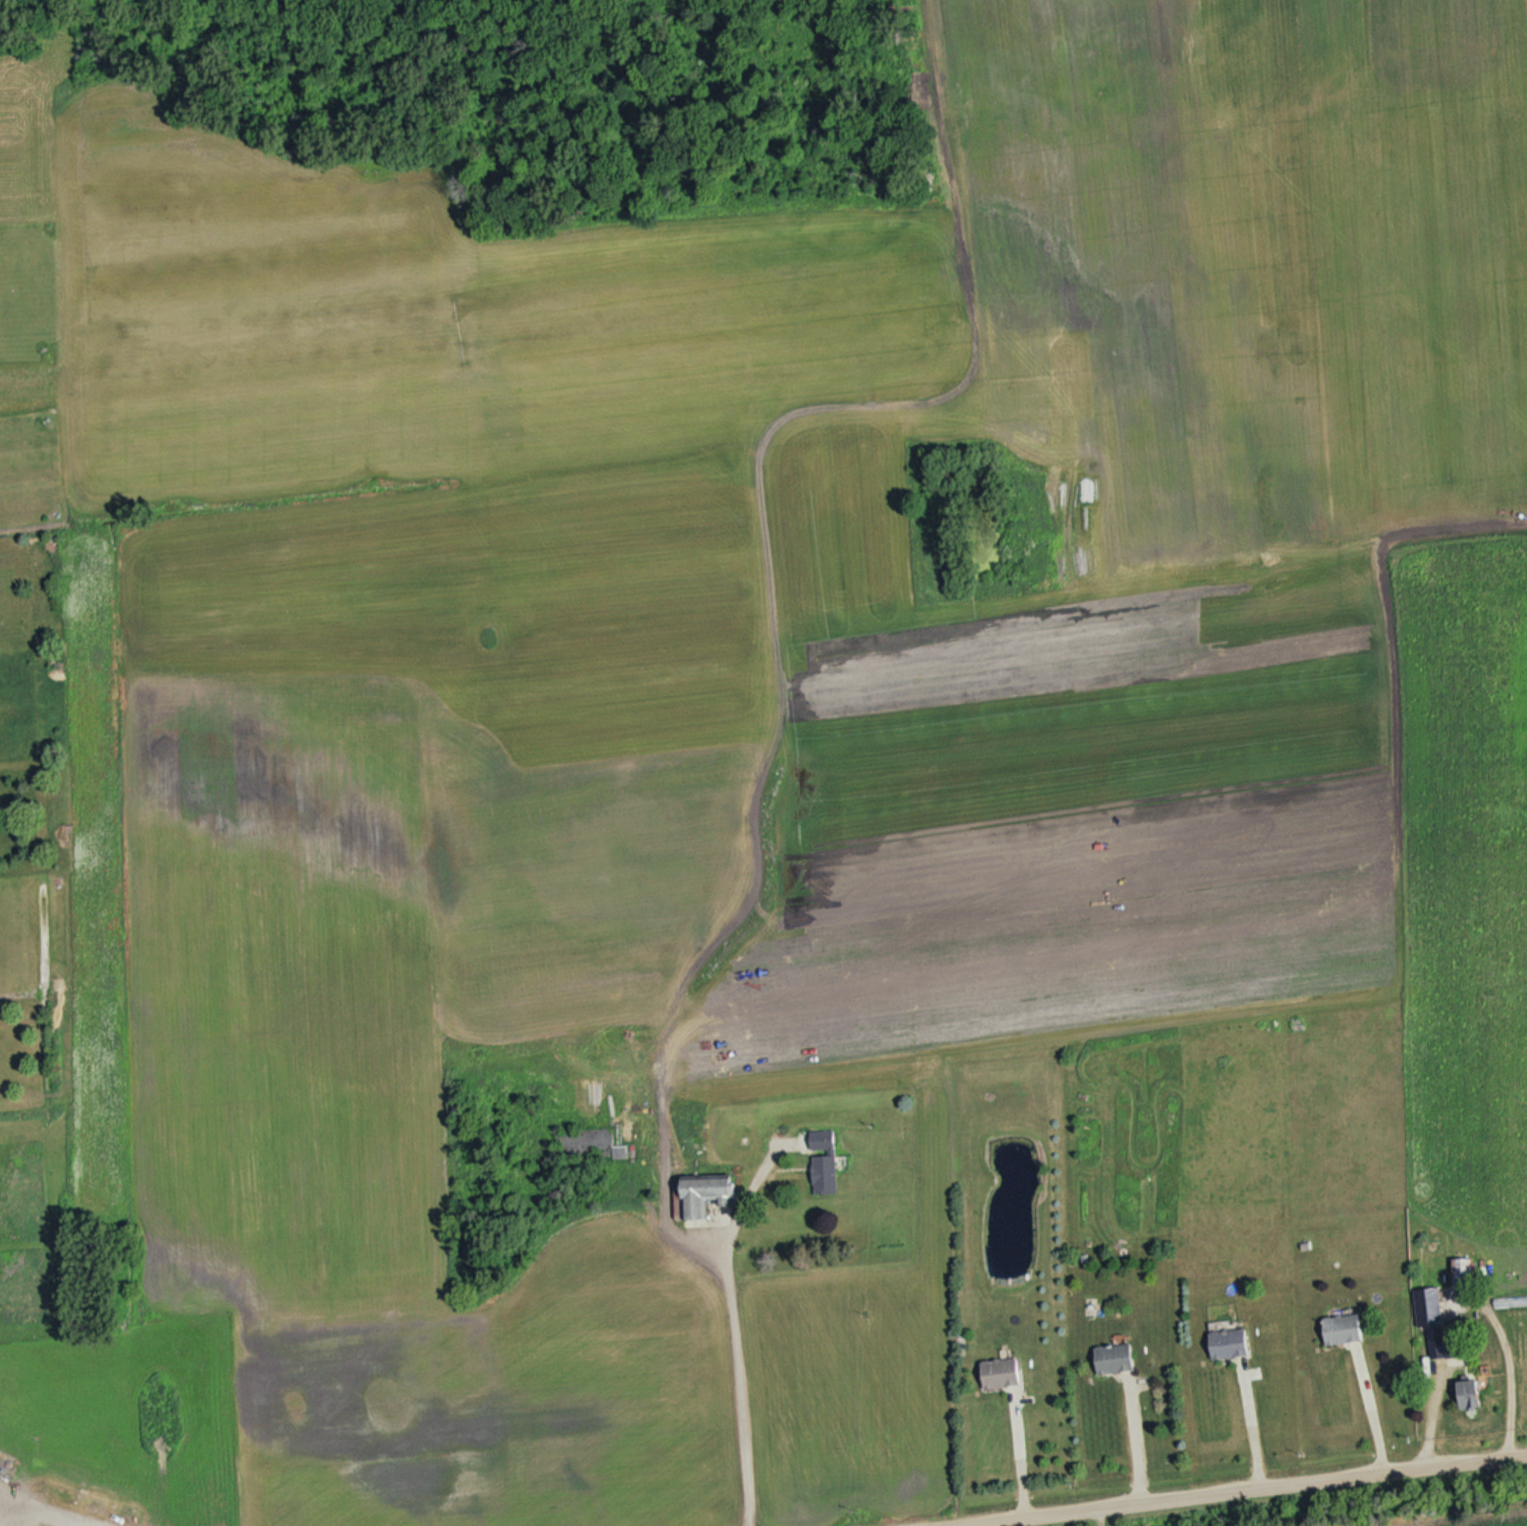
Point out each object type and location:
building: (589, 1143)
building: (824, 1160)
building: (705, 1194)
building: (1462, 1271)
building: (1428, 1306)
building: (1342, 1328)
road: (733, 1333)
building: (1228, 1343)
building: (1113, 1358)
road: (1510, 1370)
building: (1000, 1372)
building: (1469, 1394)
road: (1372, 1419)
road: (1254, 1436)
road: (1134, 1452)
road: (1020, 1462)
road: (1254, 1492)
road: (47, 1507)

